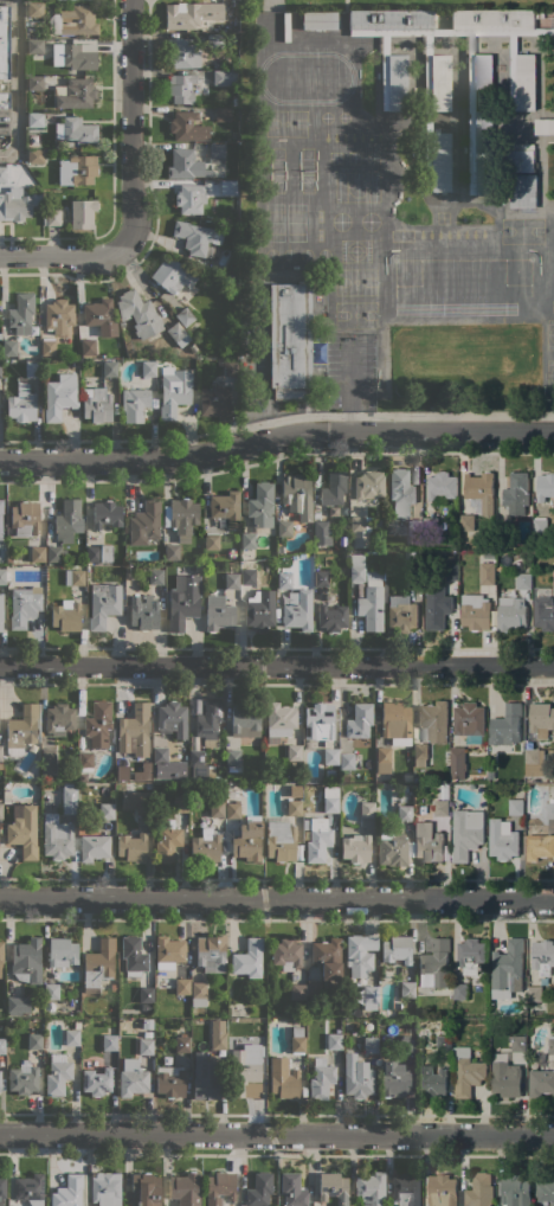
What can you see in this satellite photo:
building: (34, 9)
building: (194, 14)
building: (273, 20)
building: (318, 20)
building: (73, 21)
building: (231, 39)
building: (214, 40)
building: (4, 41)
building: (34, 46)
building: (182, 53)
building: (73, 57)
building: (483, 72)
building: (224, 77)
road: (15, 82)
building: (34, 83)
building: (180, 88)
building: (76, 94)
building: (394, 98)
building: (4, 101)
building: (234, 102)
building: (223, 114)
building: (34, 120)
road: (130, 124)
building: (182, 126)
building: (545, 127)
building: (75, 130)
building: (34, 155)
building: (224, 156)
building: (185, 165)
building: (77, 169)
road: (112, 169)
building: (2, 174)
building: (227, 188)
building: (523, 191)
building: (191, 198)
building: (14, 205)
building: (82, 213)
building: (51, 217)
building: (230, 229)
building: (197, 237)
road: (63, 255)
building: (233, 275)
building: (173, 276)
building: (21, 313)
building: (138, 313)
building: (58, 315)
building: (99, 316)
building: (185, 316)
building: (178, 334)
building: (0, 335)
building: (290, 341)
building: (9, 347)
building: (47, 347)
building: (86, 347)
building: (110, 367)
building: (231, 367)
building: (32, 368)
building: (0, 370)
building: (168, 385)
building: (59, 394)
building: (134, 402)
building: (215, 402)
building: (21, 403)
building: (97, 404)
road: (386, 415)
road: (276, 436)
building: (369, 486)
building: (442, 486)
building: (545, 487)
building: (334, 488)
building: (481, 490)
building: (401, 492)
building: (516, 494)
building: (297, 498)
building: (260, 505)
building: (225, 508)
building: (107, 514)
building: (0, 515)
building: (25, 518)
building: (181, 518)
building: (69, 520)
building: (144, 522)
building: (466, 522)
building: (431, 525)
building: (540, 526)
building: (284, 527)
building: (414, 527)
building: (359, 528)
building: (503, 530)
building: (322, 532)
building: (247, 540)
building: (212, 541)
building: (415, 541)
building: (309, 544)
building: (172, 552)
building: (38, 553)
building: (54, 553)
building: (98, 553)
building: (489, 556)
building: (9, 560)
building: (356, 567)
building: (451, 572)
building: (488, 573)
building: (2, 576)
building: (155, 576)
building: (247, 576)
building: (414, 576)
building: (75, 577)
building: (284, 578)
building: (321, 578)
building: (553, 578)
building: (232, 580)
building: (523, 580)
building: (183, 601)
building: (372, 601)
building: (104, 603)
building: (24, 605)
building: (437, 607)
building: (543, 609)
building: (298, 610)
building: (260, 611)
building: (475, 611)
building: (0, 612)
building: (144, 612)
building: (218, 612)
building: (401, 612)
building: (510, 614)
building: (66, 615)
building: (331, 617)
road: (277, 666)
building: (172, 718)
building: (59, 719)
building: (279, 719)
building: (469, 719)
building: (245, 720)
building: (359, 720)
building: (434, 720)
building: (208, 721)
building: (318, 721)
building: (541, 721)
building: (395, 723)
building: (98, 724)
building: (507, 725)
building: (21, 730)
building: (134, 730)
building: (553, 738)
building: (294, 752)
building: (0, 753)
building: (160, 753)
building: (419, 753)
building: (197, 756)
building: (330, 756)
building: (233, 757)
building: (382, 759)
building: (85, 761)
building: (347, 761)
building: (49, 762)
building: (457, 762)
building: (534, 762)
building: (218, 771)
building: (83, 777)
building: (44, 778)
building: (53, 785)
building: (404, 788)
building: (295, 790)
building: (105, 795)
building: (330, 798)
building: (69, 800)
building: (136, 801)
building: (179, 803)
building: (294, 807)
building: (516, 807)
building: (442, 808)
building: (217, 809)
building: (233, 809)
building: (367, 809)
building: (549, 809)
building: (107, 810)
building: (0, 812)
building: (404, 813)
building: (22, 830)
building: (466, 833)
building: (56, 836)
building: (281, 839)
building: (316, 839)
building: (247, 840)
building: (503, 840)
building: (167, 841)
building: (427, 842)
building: (539, 842)
building: (131, 846)
building: (94, 847)
building: (391, 847)
building: (205, 848)
building: (355, 848)
road: (277, 897)
building: (395, 949)
building: (168, 951)
building: (62, 952)
building: (210, 954)
building: (285, 954)
building: (360, 954)
building: (470, 955)
building: (133, 956)
building: (542, 956)
building: (327, 957)
building: (247, 958)
building: (1, 960)
building: (26, 961)
building: (98, 964)
building: (434, 966)
building: (508, 970)
building: (182, 986)
building: (114, 987)
building: (313, 987)
building: (406, 989)
building: (51, 990)
building: (297, 992)
building: (460, 992)
building: (198, 993)
building: (146, 994)
building: (534, 994)
building: (371, 1000)
building: (18, 1005)
building: (76, 1025)
building: (149, 1029)
building: (373, 1029)
building: (217, 1034)
building: (72, 1037)
building: (34, 1040)
building: (334, 1041)
building: (109, 1043)
building: (296, 1043)
building: (182, 1044)
building: (444, 1044)
building: (518, 1044)
building: (550, 1044)
building: (2, 1045)
building: (369, 1045)
building: (406, 1045)
building: (146, 1046)
building: (244, 1066)
building: (466, 1071)
building: (57, 1075)
building: (505, 1076)
building: (356, 1077)
building: (133, 1078)
building: (321, 1078)
building: (22, 1079)
building: (393, 1079)
building: (205, 1080)
building: (432, 1080)
building: (96, 1082)
building: (169, 1082)
building: (284, 1082)
building: (541, 1083)
road: (277, 1134)
building: (28, 1187)
building: (333, 1187)
building: (2, 1188)
building: (105, 1188)
building: (220, 1188)
building: (143, 1189)
building: (183, 1189)
building: (259, 1189)
building: (292, 1189)
building: (369, 1189)
building: (405, 1189)
building: (442, 1191)
building: (478, 1191)
building: (515, 1191)
building: (546, 1191)
building: (67, 1192)
building: (354, 1204)

